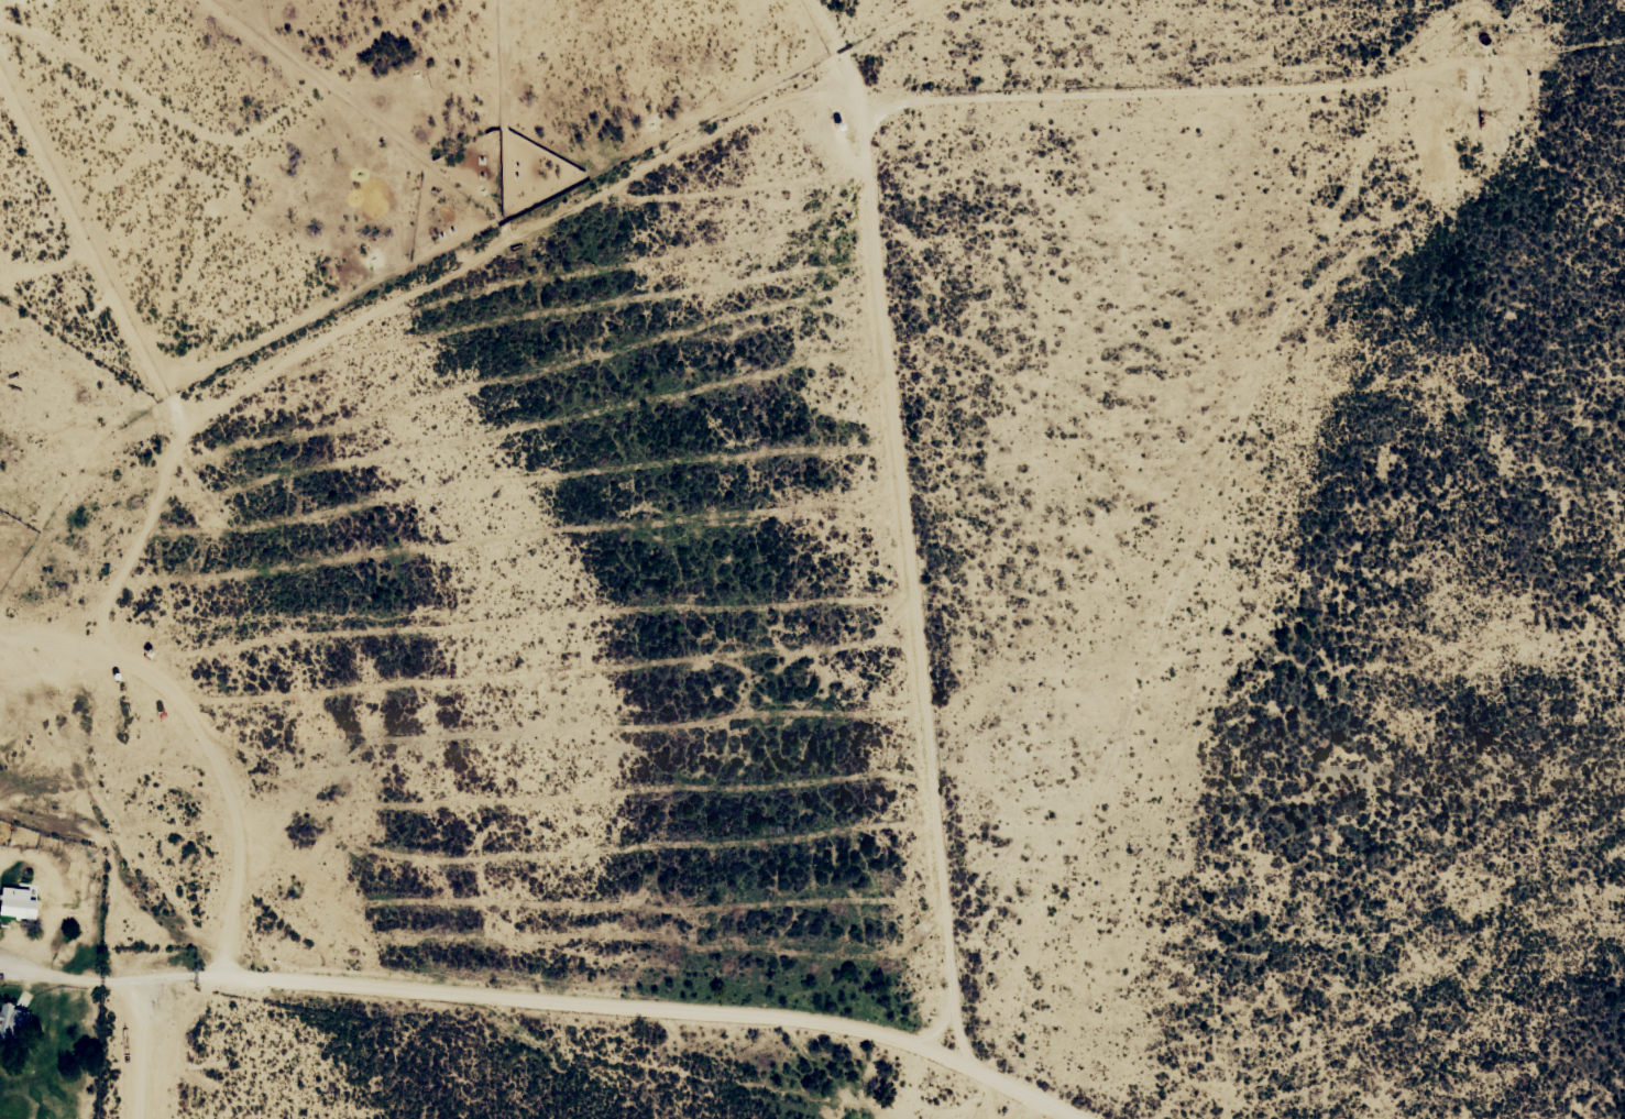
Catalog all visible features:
road: (899, 497)
building: (12, 899)
road: (57, 973)
road: (621, 1009)
building: (11, 1022)
road: (200, 1051)
airport runway: (144, 1063)

